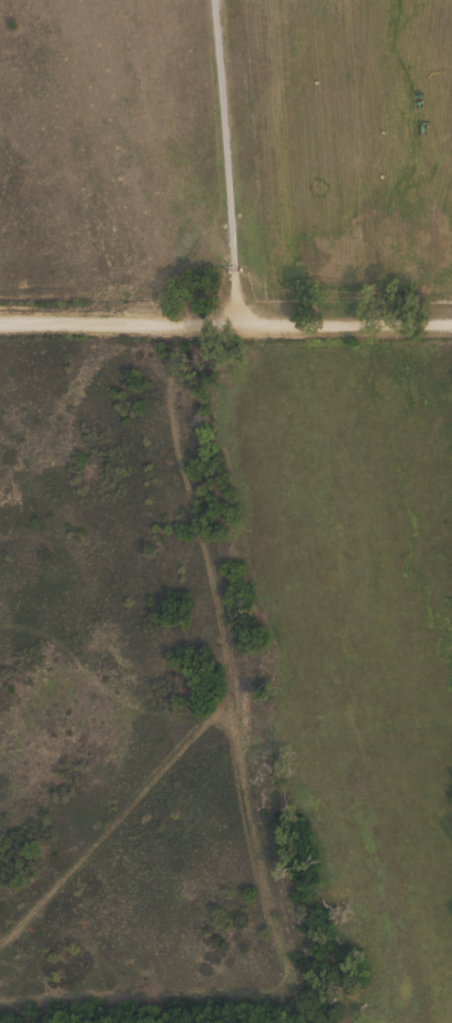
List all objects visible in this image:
road: (226, 322)
road: (180, 487)

